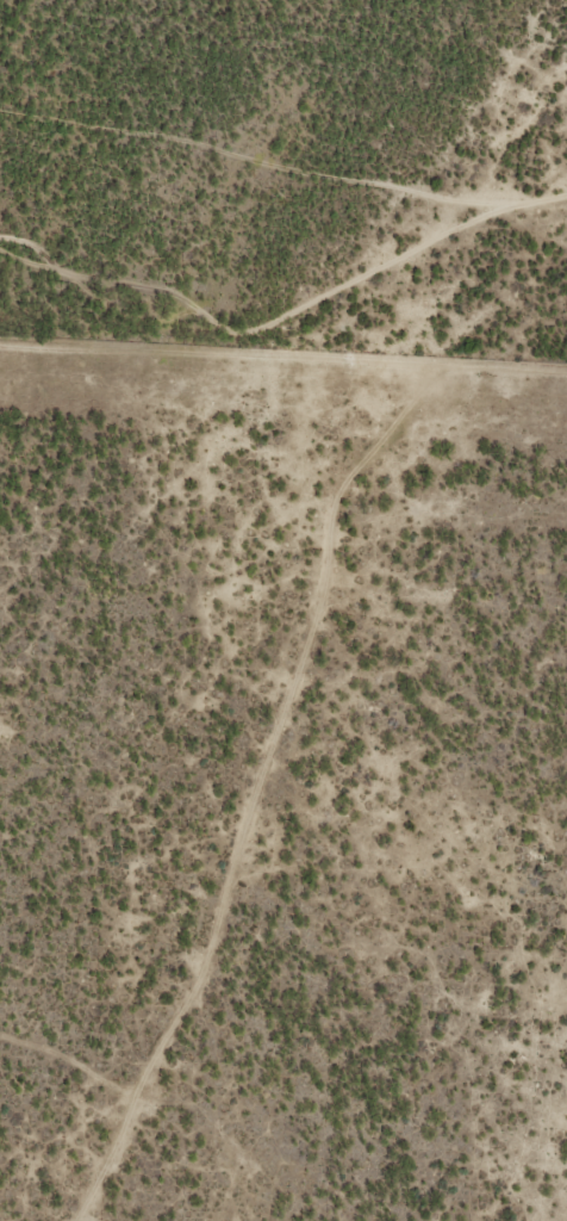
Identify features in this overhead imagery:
road: (282, 359)

